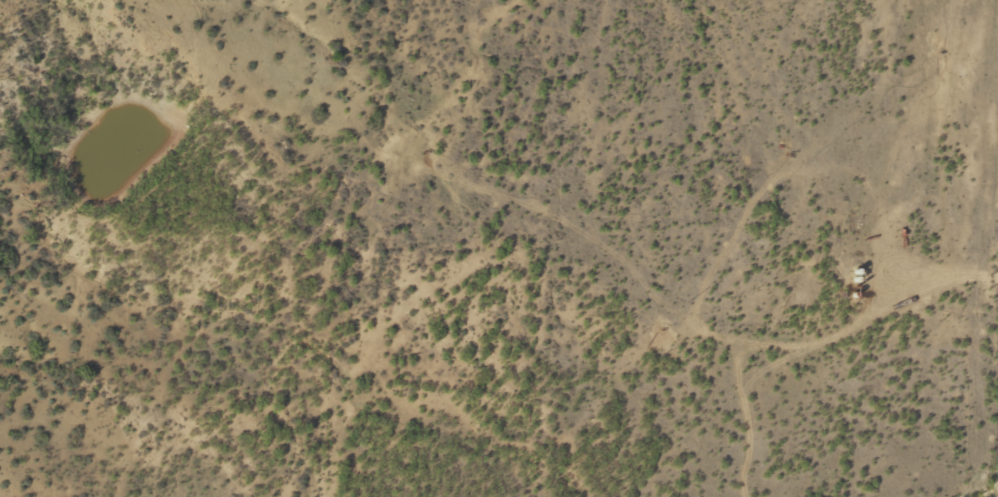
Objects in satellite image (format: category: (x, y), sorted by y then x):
road: (739, 223)
road: (466, 232)
road: (871, 378)

